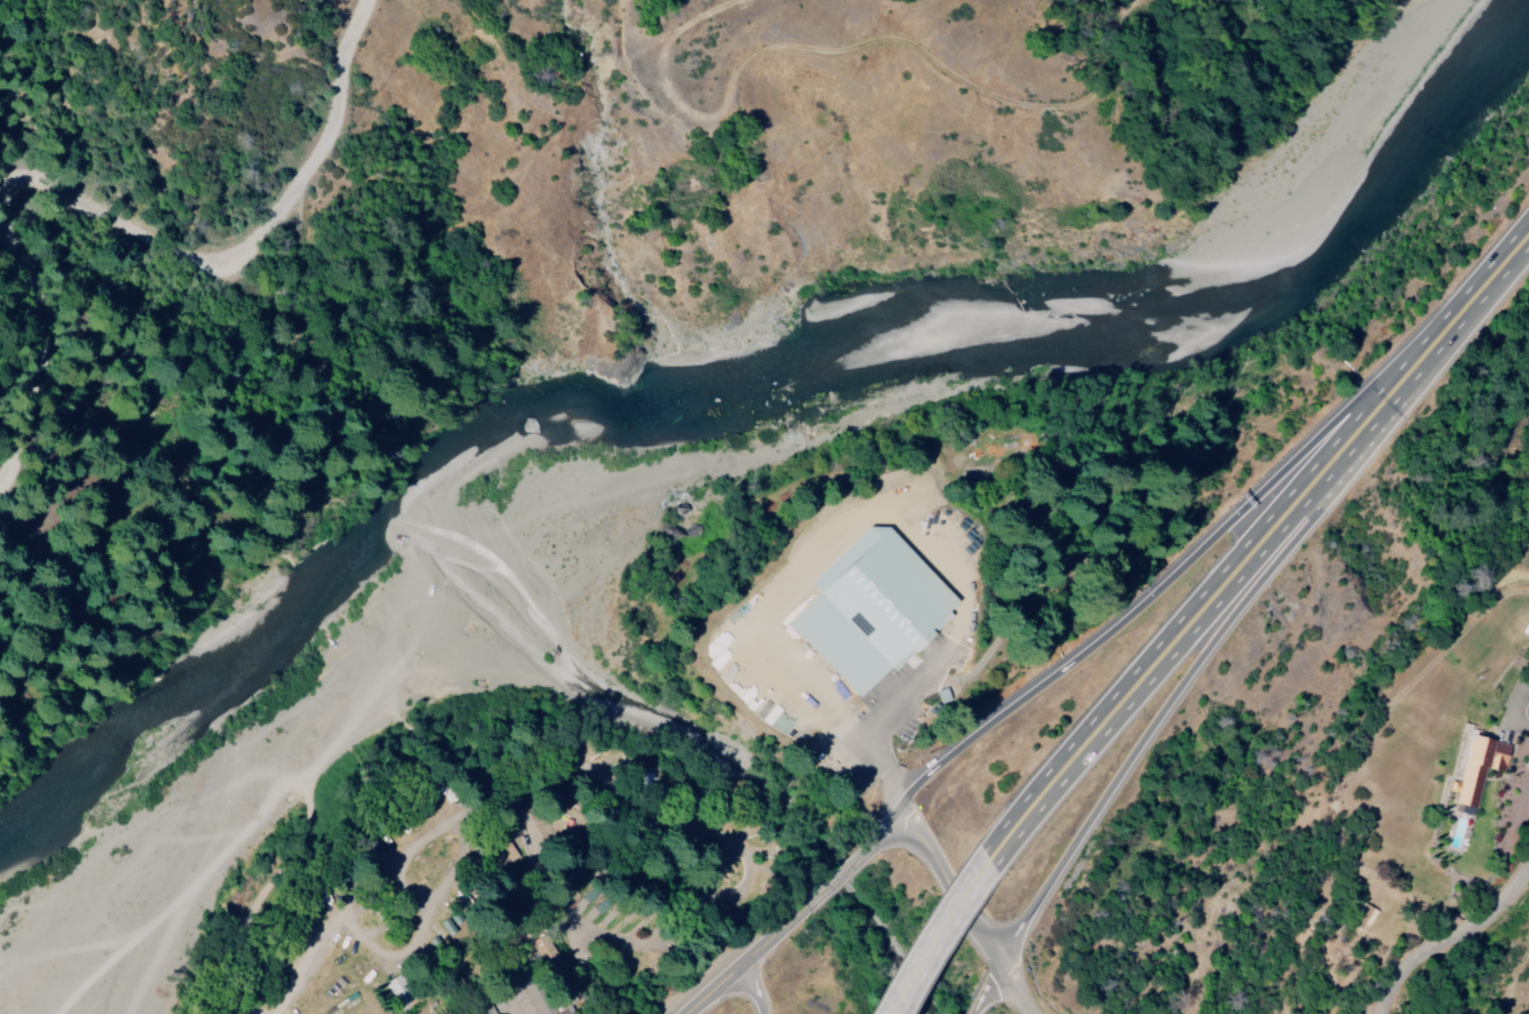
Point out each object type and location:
road: (126, 222)
road: (1469, 304)
river: (1082, 373)
road: (1355, 433)
river: (372, 581)
road: (1156, 593)
building: (868, 608)
road: (856, 622)
road: (1139, 677)
road: (1150, 729)
building: (1477, 769)
river: (160, 799)
road: (633, 807)
road: (886, 826)
road: (840, 872)
road: (638, 881)
road: (950, 888)
river: (40, 906)
building: (1361, 917)
road: (1447, 934)
road: (934, 938)
road: (450, 941)
building: (536, 947)
road: (748, 959)
road: (991, 978)
road: (536, 987)
road: (757, 987)
road: (1012, 989)
building: (398, 990)
road: (976, 1002)
building: (482, 1007)
road: (509, 1009)

